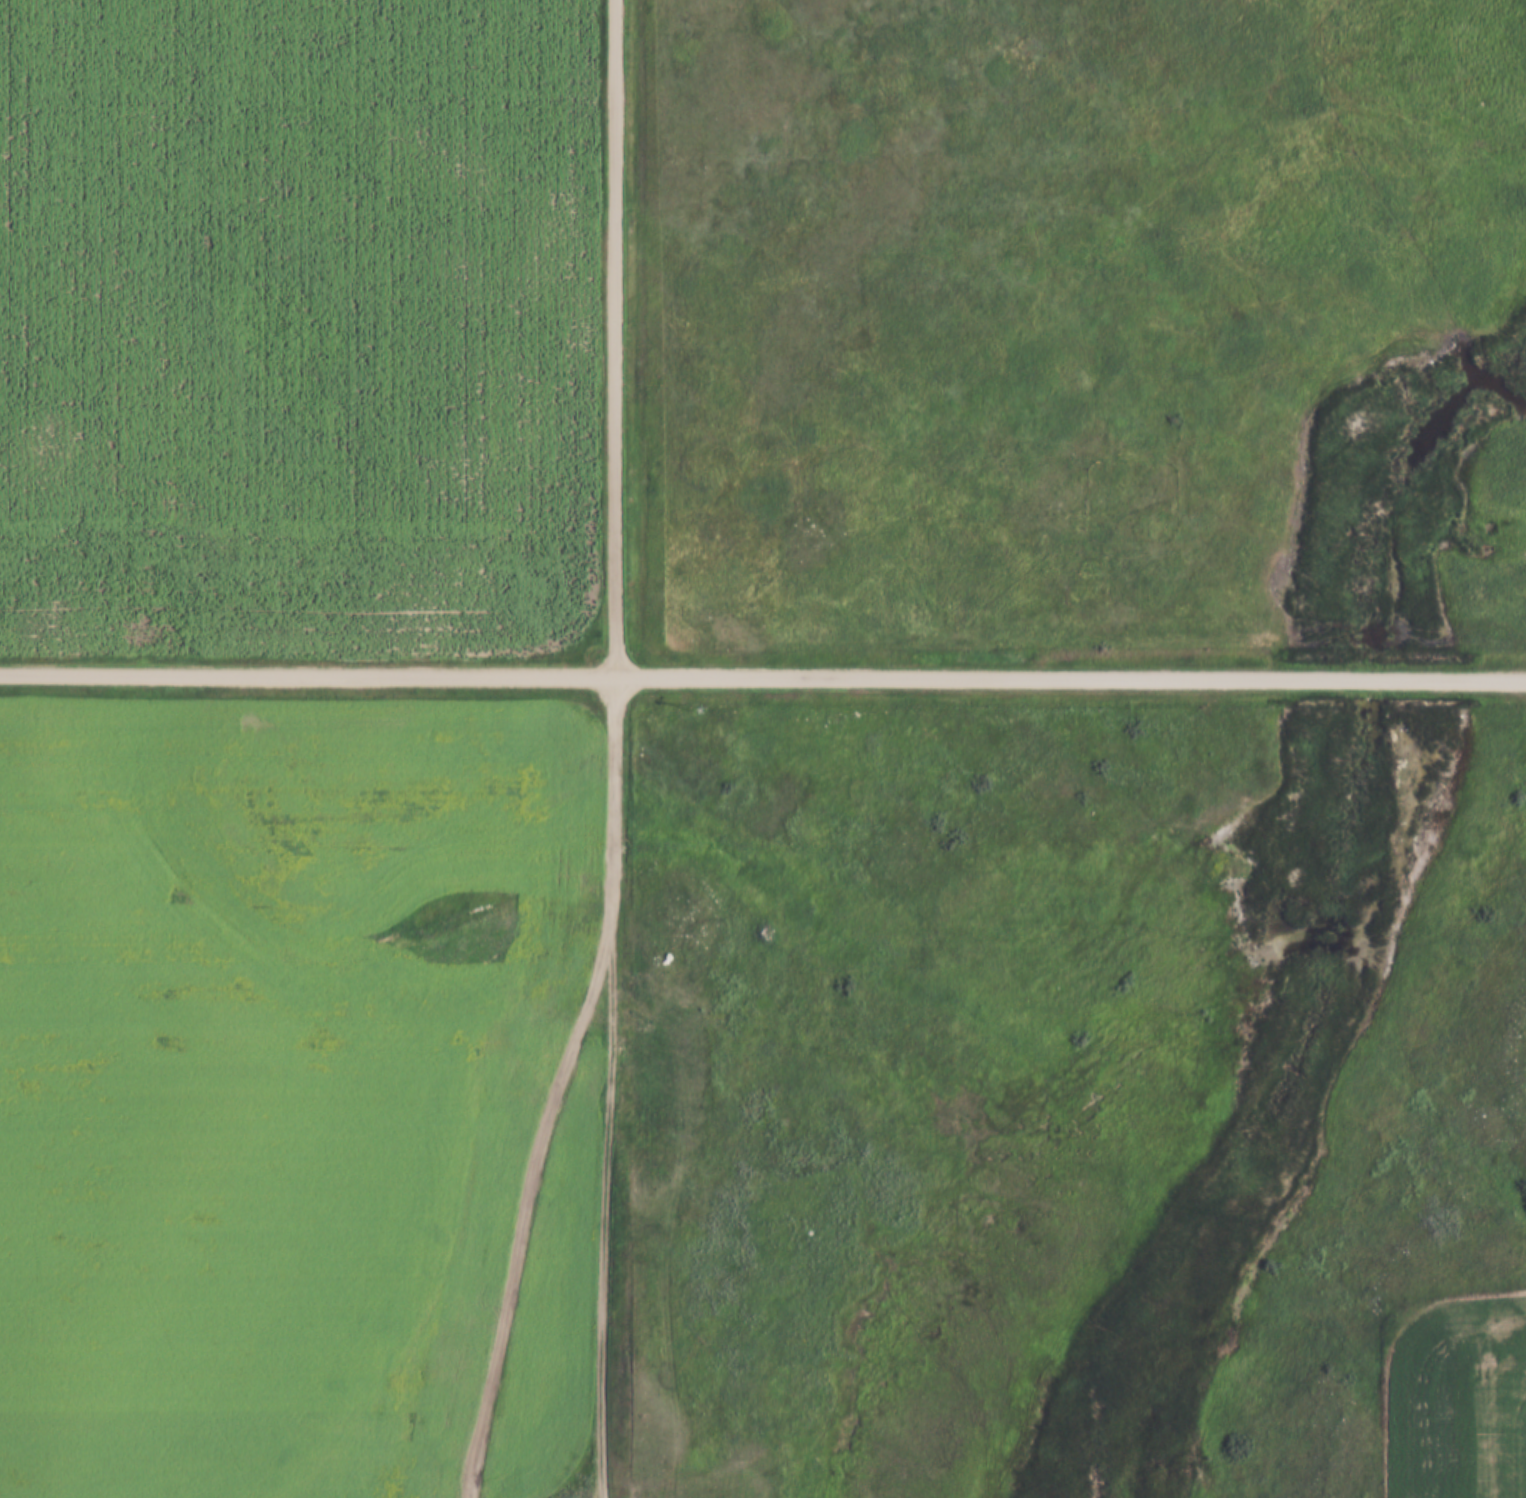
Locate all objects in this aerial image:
road: (618, 336)
road: (763, 673)
road: (613, 1085)
quarry: (512, 1492)

